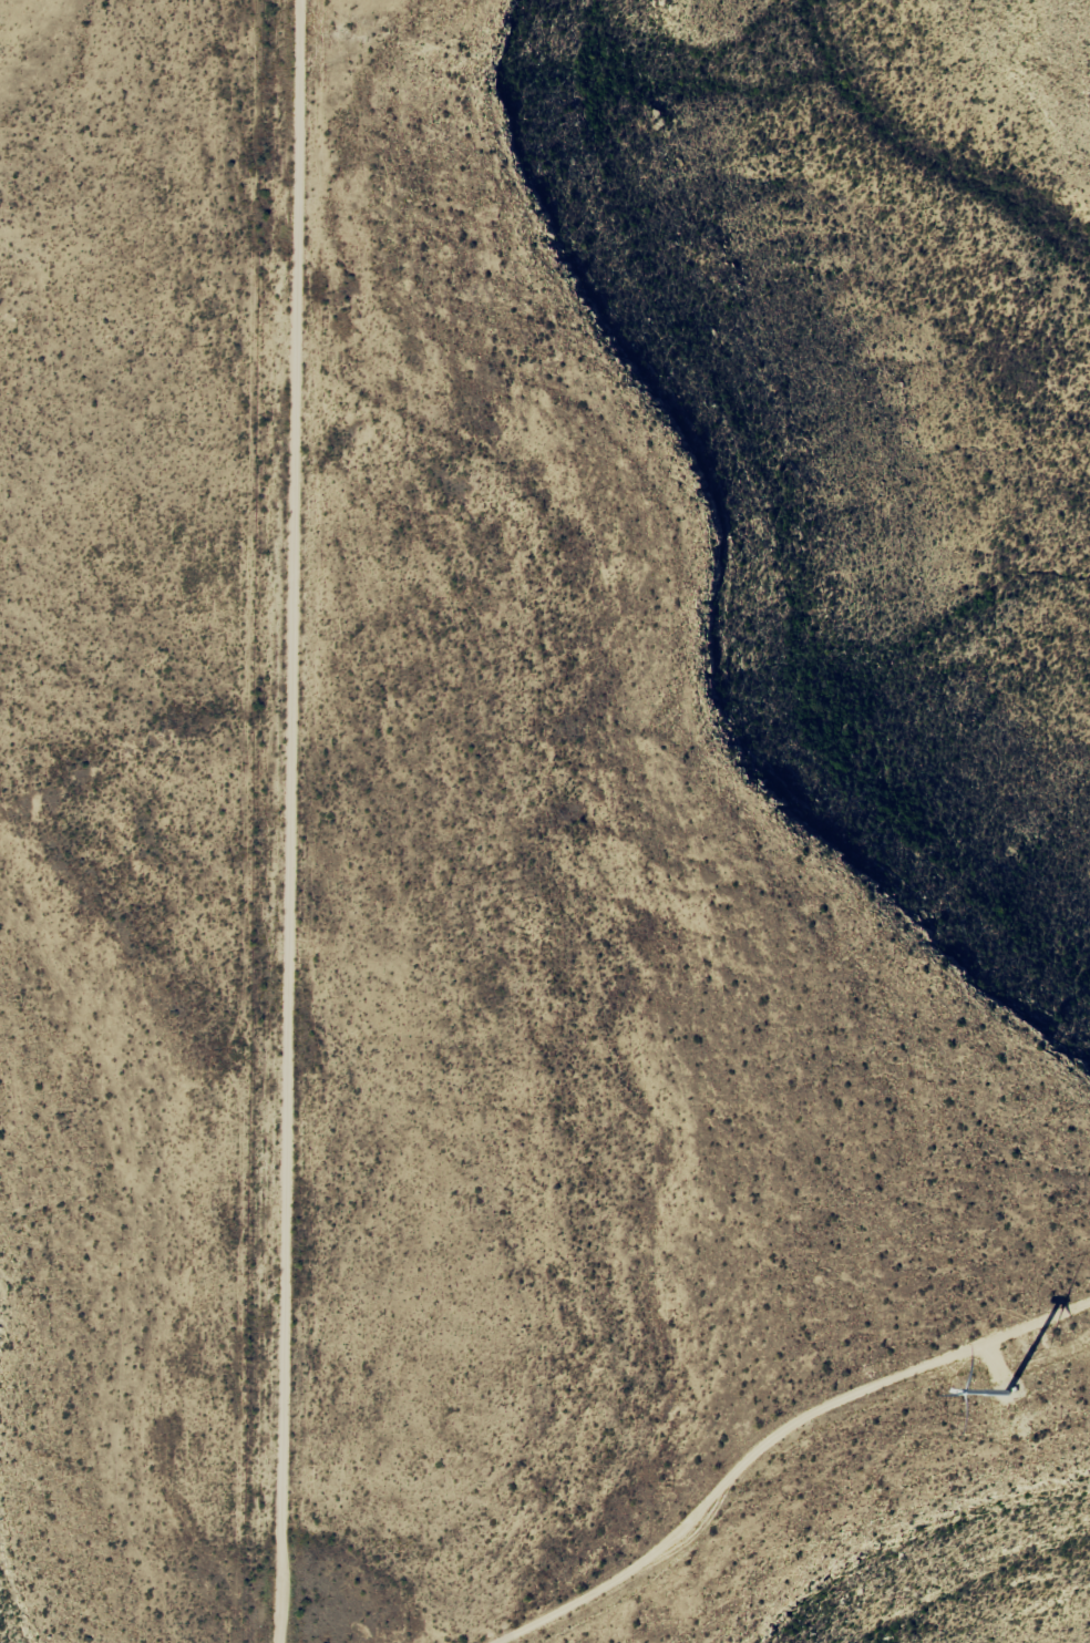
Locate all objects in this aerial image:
road: (213, 821)
wind turbine: (1019, 1403)

